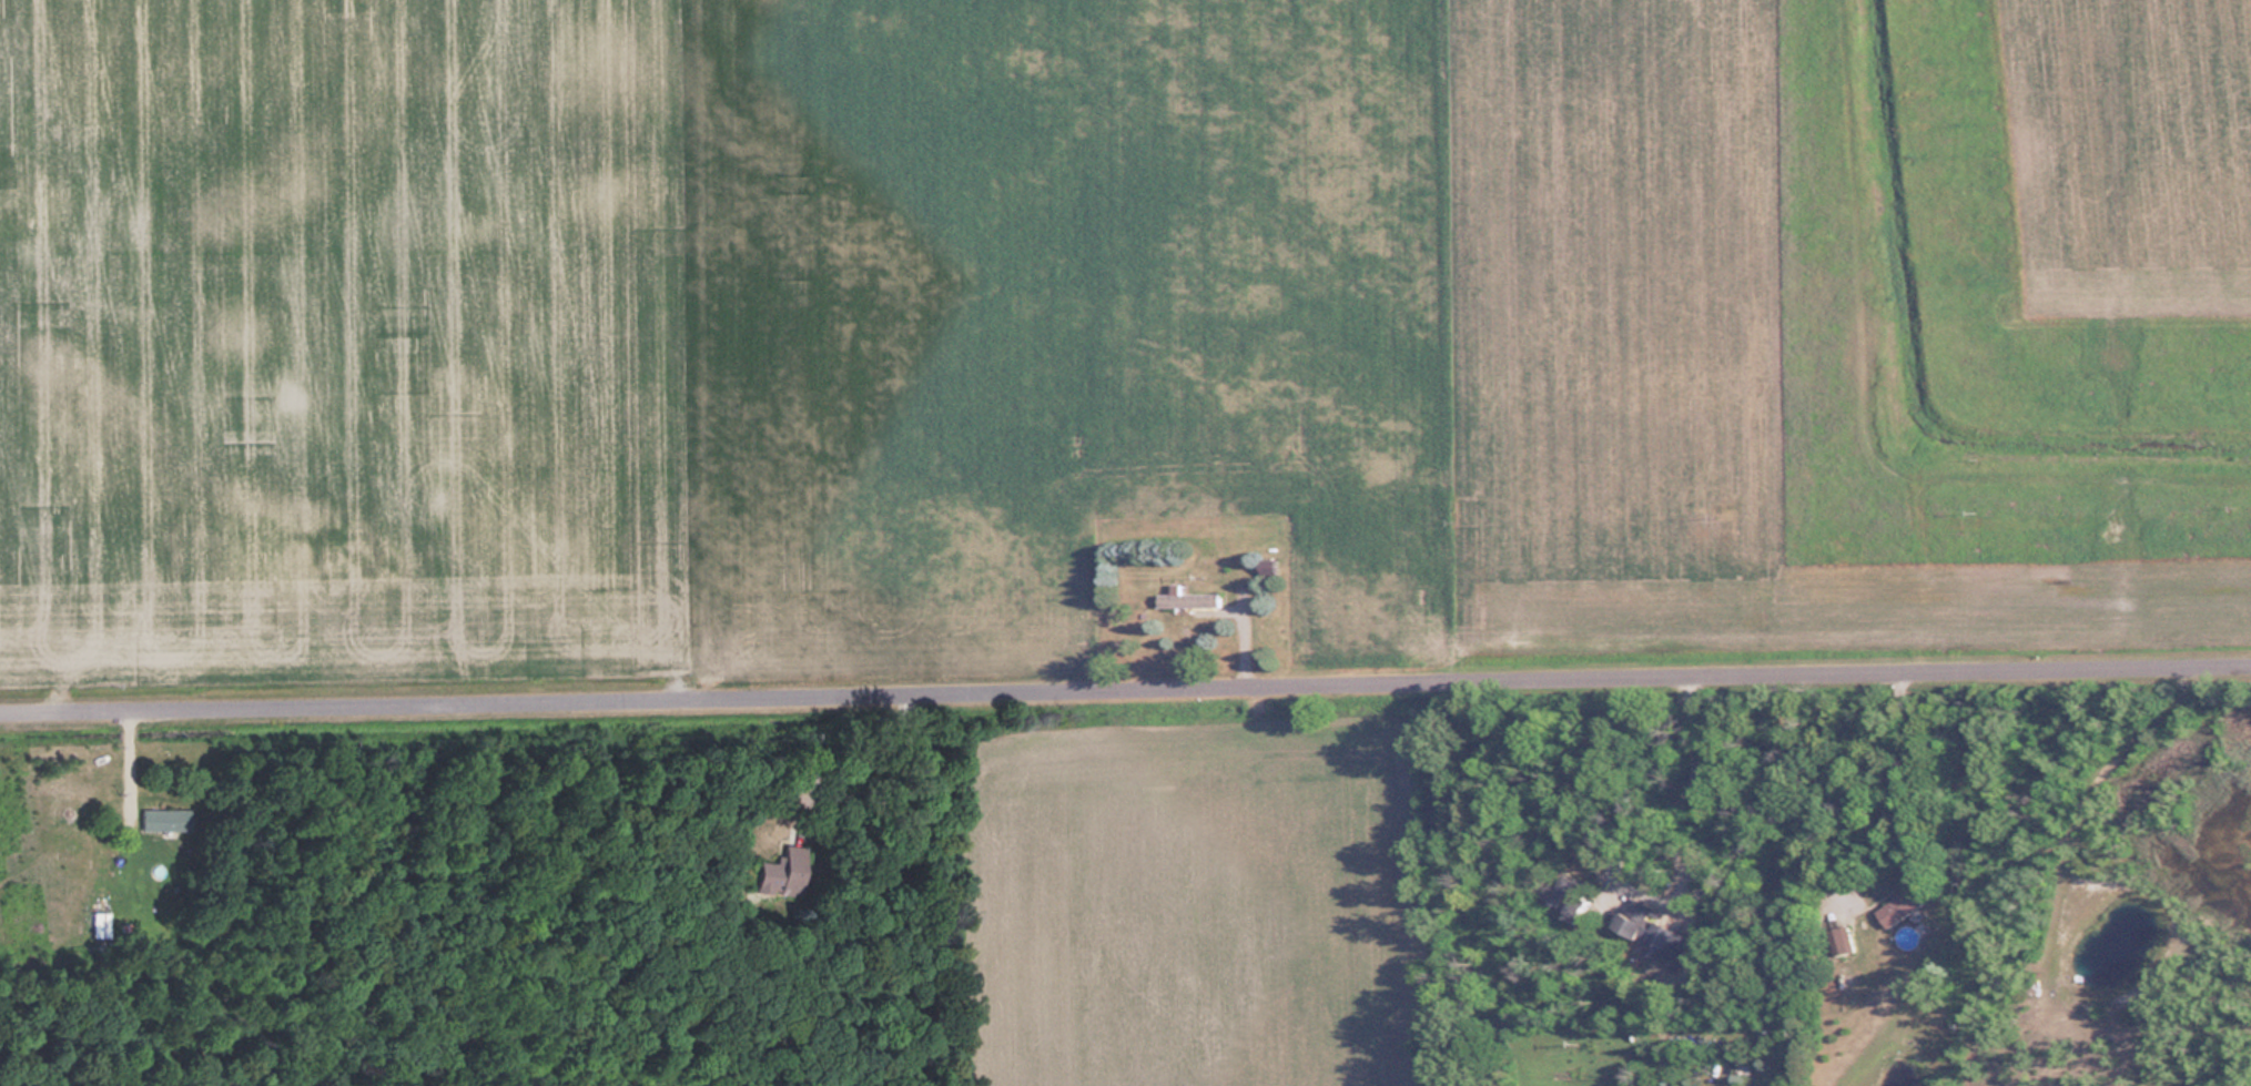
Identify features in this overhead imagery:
building: (1264, 566)
building: (1185, 599)
road: (1125, 693)
building: (158, 818)
building: (782, 872)
building: (1562, 897)
building: (1897, 905)
road: (2057, 909)
building: (1641, 927)
building: (1837, 940)

